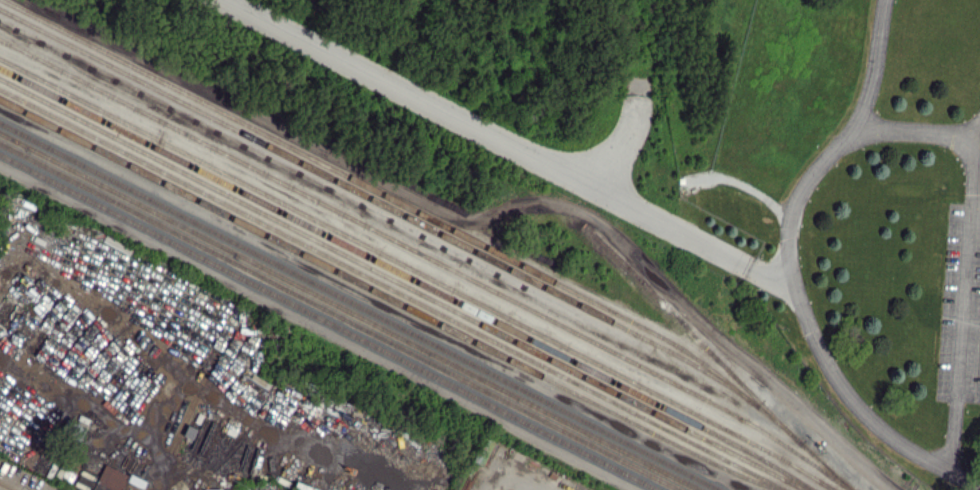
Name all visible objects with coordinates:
road: (873, 63)
road: (917, 132)
road: (512, 145)
railway: (381, 204)
railway: (440, 224)
railway: (584, 224)
railway: (428, 258)
railway: (418, 273)
railway: (406, 277)
railway: (402, 284)
railway: (392, 290)
railway: (387, 298)
road: (961, 299)
railway: (359, 308)
railway: (348, 312)
railway: (339, 317)
railway: (329, 323)
road: (811, 333)
road: (511, 481)

